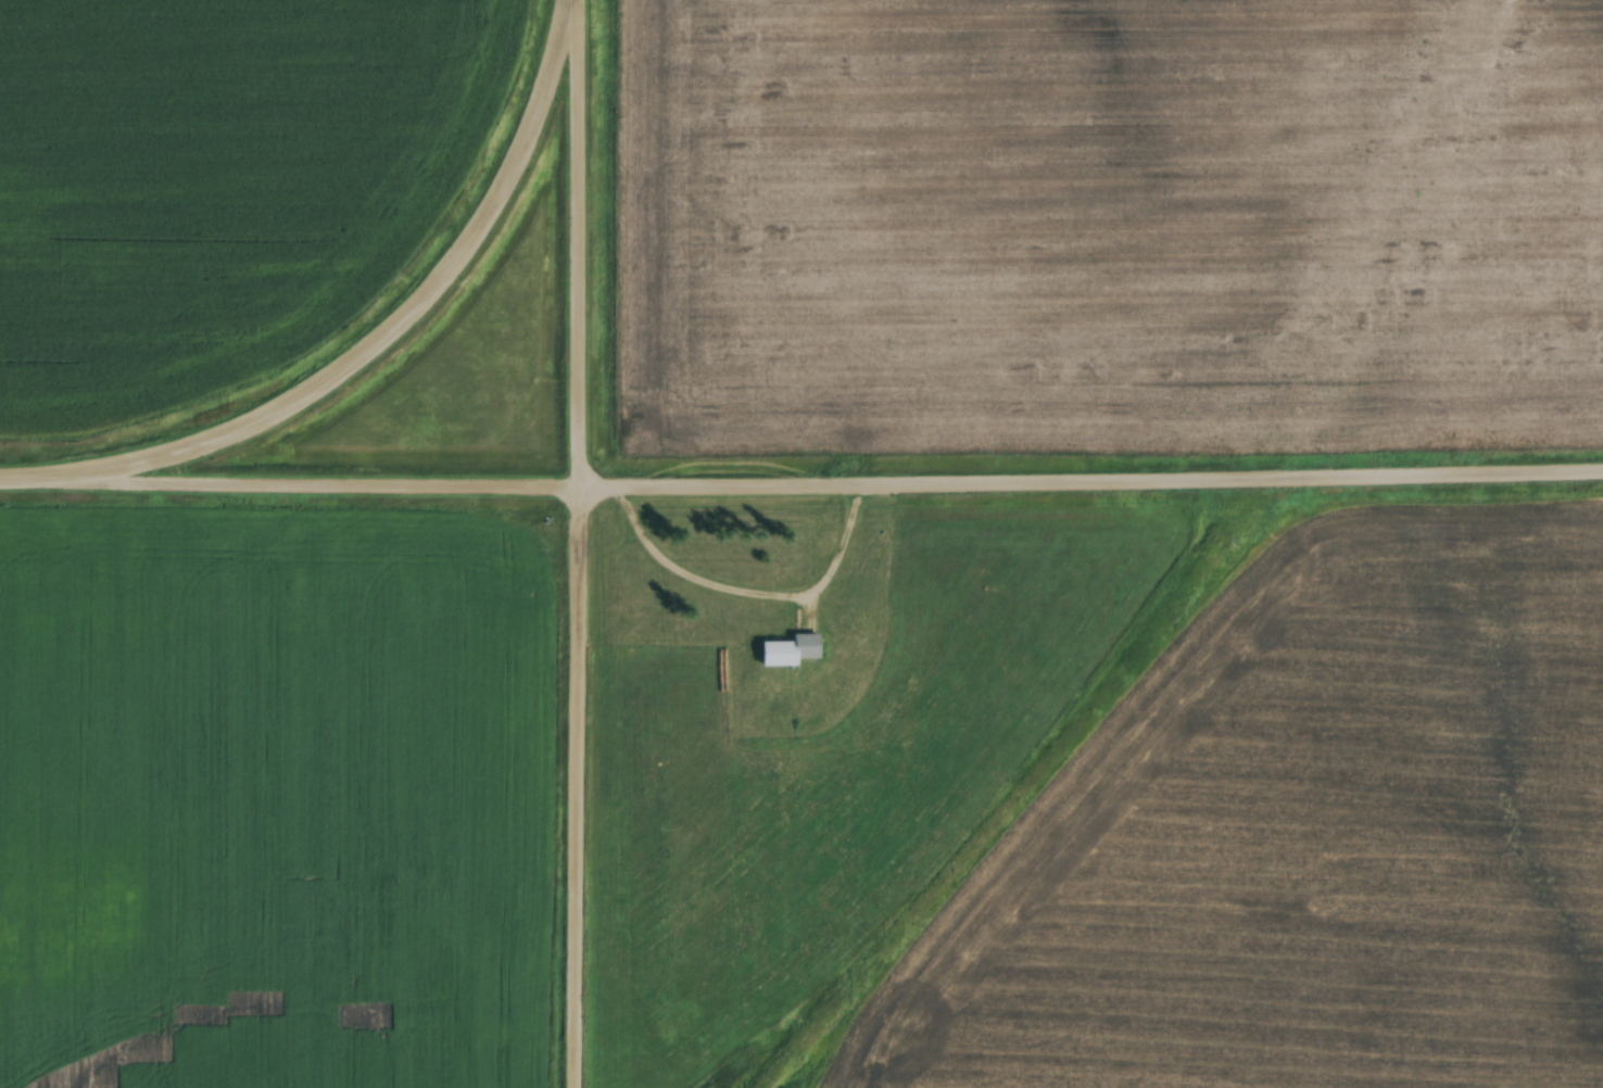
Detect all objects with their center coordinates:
road: (581, 77)
road: (801, 494)
road: (583, 621)
building: (787, 650)
building: (834, 654)

